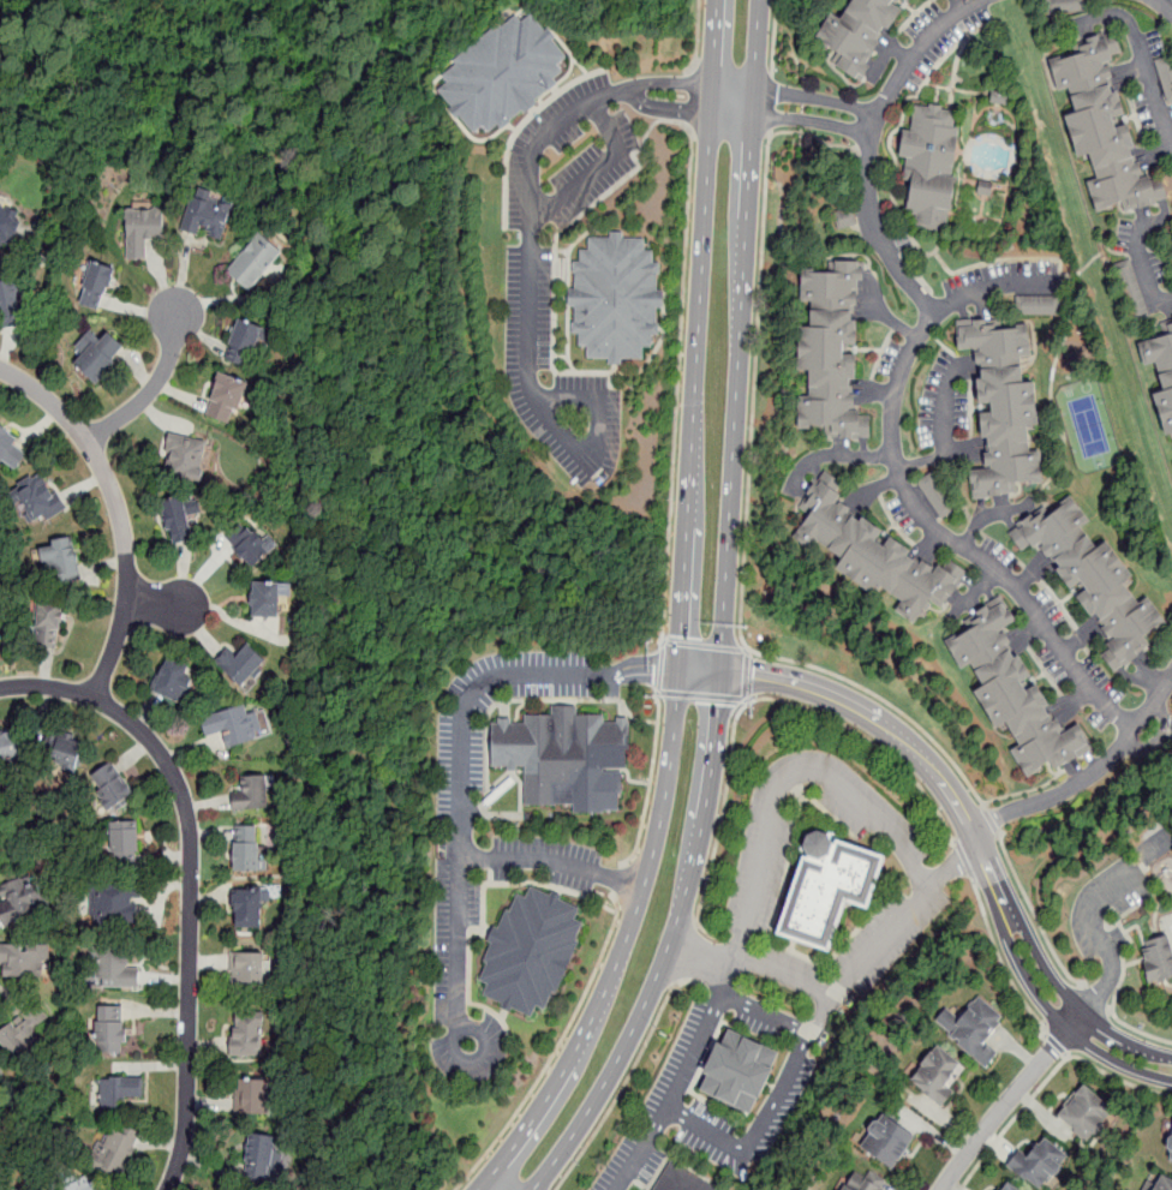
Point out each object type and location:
road: (1162, 5)
building: (1069, 6)
building: (867, 28)
road: (698, 37)
road: (773, 37)
road: (1143, 59)
building: (506, 74)
building: (1165, 76)
road: (672, 80)
road: (690, 98)
road: (770, 102)
road: (669, 108)
road: (794, 108)
building: (1106, 126)
road: (873, 146)
building: (934, 161)
road: (599, 169)
building: (207, 215)
building: (8, 222)
building: (143, 229)
road: (1156, 249)
road: (12, 253)
road: (1119, 256)
road: (1143, 258)
road: (1027, 261)
building: (255, 262)
building: (96, 285)
building: (1129, 295)
building: (618, 299)
building: (11, 303)
building: (1032, 304)
road: (531, 329)
building: (244, 342)
building: (838, 348)
building: (97, 354)
building: (1162, 367)
road: (151, 387)
road: (677, 389)
building: (227, 396)
building: (1009, 402)
park: (1089, 424)
road: (945, 433)
building: (12, 449)
building: (185, 454)
building: (940, 492)
building: (38, 497)
road: (911, 501)
road: (119, 510)
building: (180, 518)
road: (745, 539)
building: (247, 544)
building: (874, 548)
building: (60, 558)
building: (1100, 575)
building: (264, 597)
road: (157, 604)
road: (724, 614)
road: (683, 617)
building: (49, 623)
building: (241, 664)
road: (653, 670)
road: (746, 676)
building: (173, 680)
building: (1021, 693)
road: (533, 699)
building: (234, 725)
road: (883, 725)
road: (869, 740)
building: (11, 746)
building: (563, 752)
building: (67, 754)
road: (650, 776)
road: (1090, 776)
building: (112, 787)
road: (1025, 790)
building: (251, 791)
road: (461, 809)
road: (992, 820)
road: (719, 829)
building: (125, 845)
building: (247, 847)
road: (964, 861)
road: (555, 863)
road: (955, 868)
road: (190, 878)
road: (621, 881)
building: (832, 890)
road: (751, 896)
building: (20, 899)
building: (119, 902)
building: (249, 904)
parking lot: (1106, 909)
road: (1035, 914)
road: (1099, 939)
road: (687, 952)
building: (534, 953)
building: (23, 959)
road: (869, 959)
road: (701, 961)
building: (1161, 962)
road: (1003, 963)
building: (116, 967)
building: (247, 970)
road: (785, 977)
road: (1070, 998)
road: (1093, 999)
road: (1114, 1007)
road: (1111, 1010)
road: (766, 1015)
road: (1057, 1017)
building: (109, 1029)
building: (976, 1031)
building: (23, 1033)
building: (246, 1034)
road: (1056, 1041)
road: (555, 1051)
building: (0, 1069)
road: (629, 1071)
building: (743, 1075)
building: (939, 1076)
road: (1047, 1076)
building: (116, 1094)
building: (252, 1095)
road: (781, 1098)
road: (1011, 1099)
building: (1089, 1114)
road: (701, 1130)
building: (1171, 1143)
building: (891, 1144)
building: (115, 1149)
building: (263, 1158)
building: (1042, 1166)
building: (683, 1180)
building: (868, 1184)
building: (79, 1185)
building: (1166, 1185)
building: (1010, 1188)

